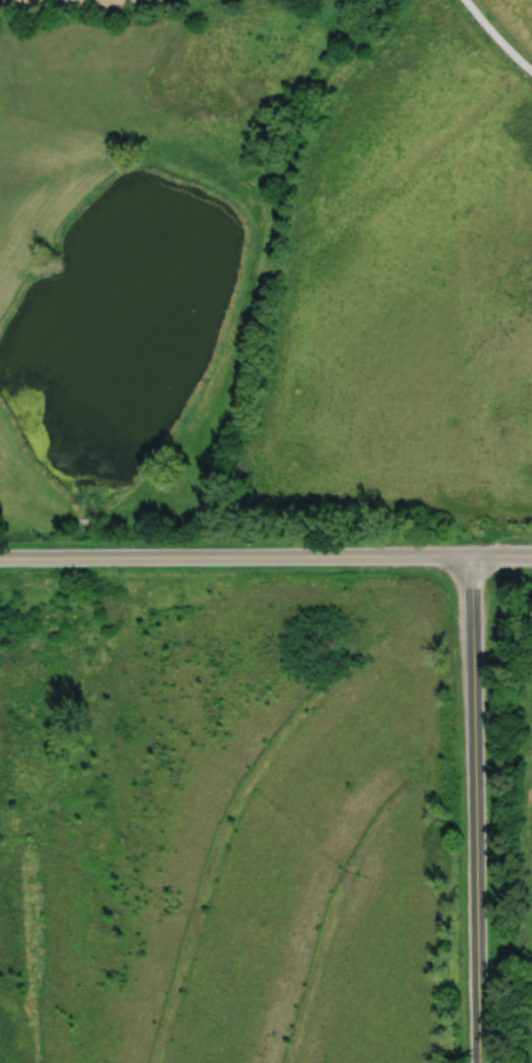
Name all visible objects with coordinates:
road: (497, 36)
park: (376, 255)
road: (265, 555)
road: (475, 808)

